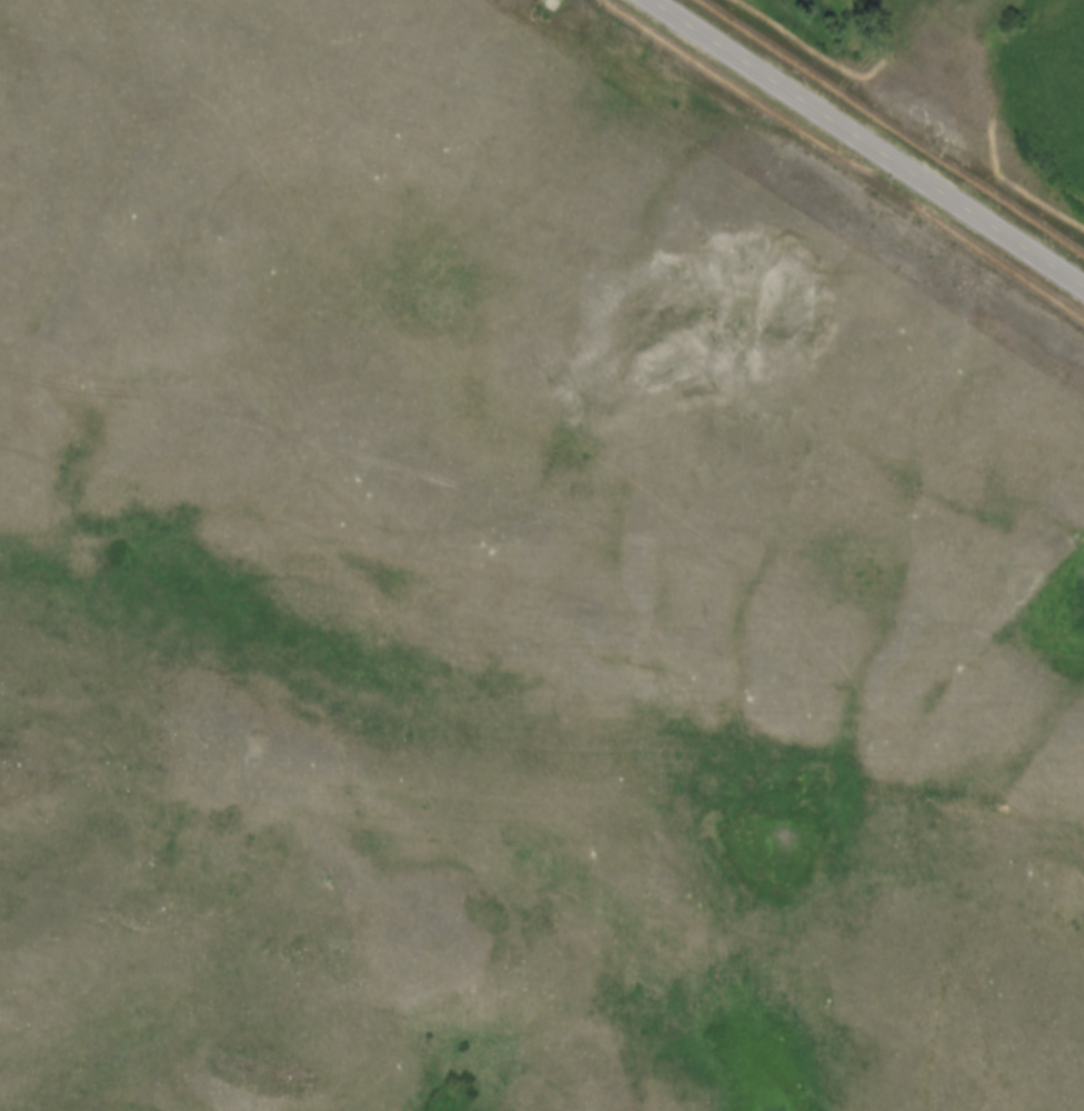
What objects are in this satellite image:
road: (873, 139)

